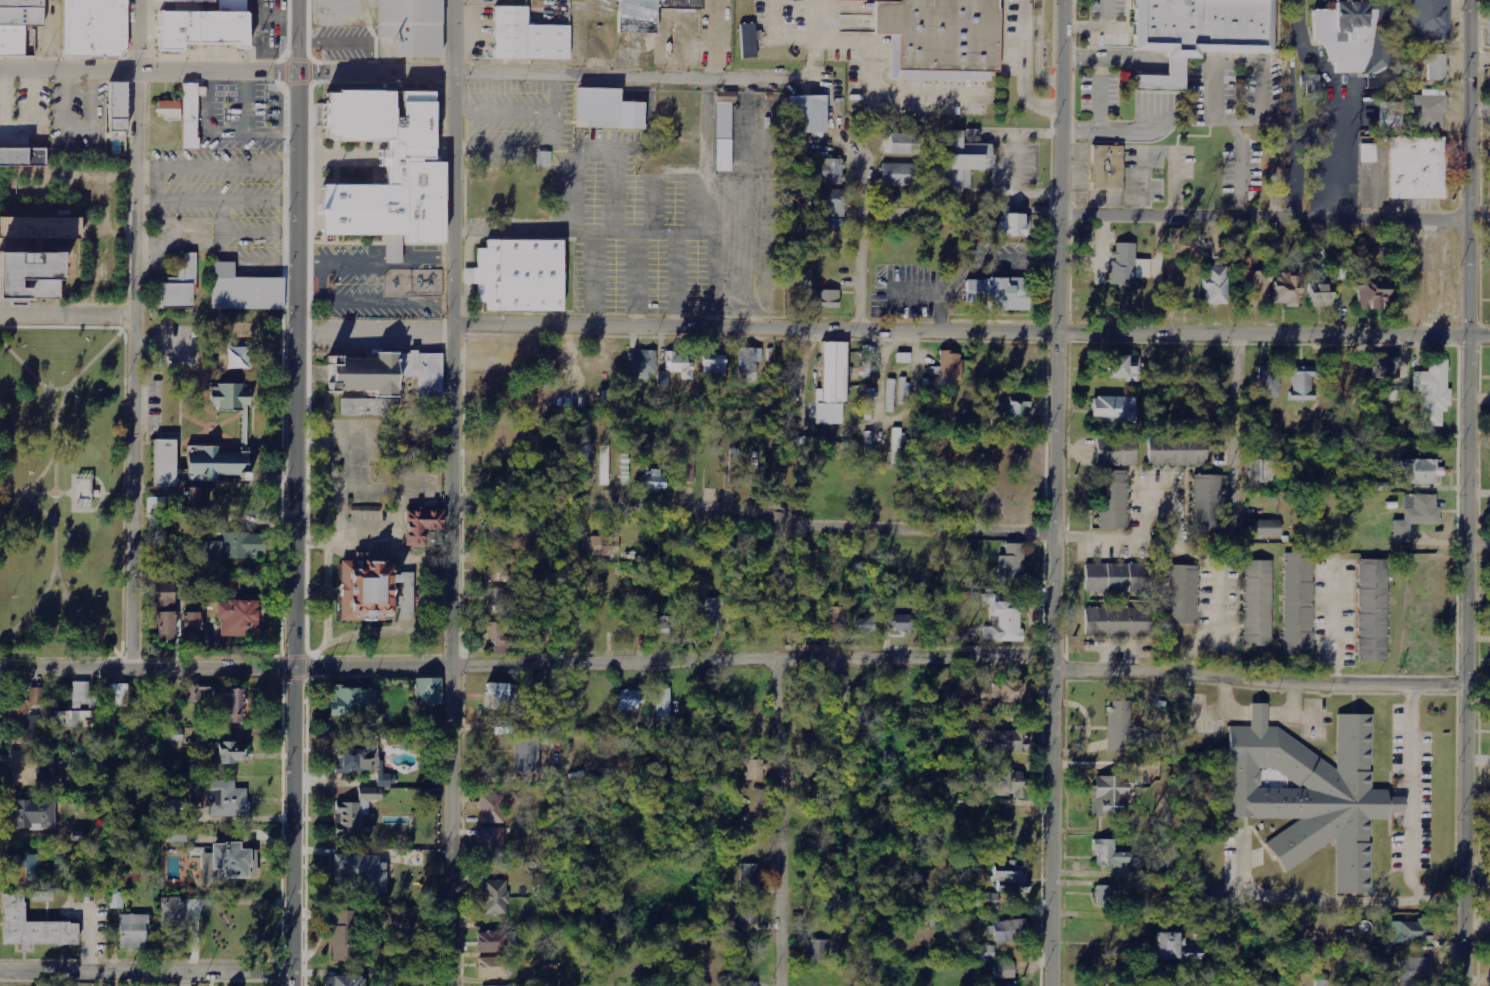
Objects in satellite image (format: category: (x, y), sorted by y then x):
building: (188, 0)
building: (21, 2)
building: (21, 14)
building: (649, 14)
building: (1426, 20)
building: (408, 25)
building: (93, 27)
building: (204, 27)
building: (1195, 32)
building: (942, 34)
road: (774, 37)
building: (1353, 37)
building: (526, 38)
building: (17, 40)
building: (749, 40)
road: (813, 58)
building: (1434, 68)
road: (1021, 70)
road: (150, 71)
road: (870, 72)
road: (556, 75)
building: (120, 110)
building: (607, 110)
building: (183, 113)
building: (807, 114)
building: (1426, 115)
building: (1392, 117)
building: (722, 132)
building: (904, 144)
building: (1369, 153)
building: (23, 157)
building: (544, 159)
building: (963, 161)
building: (385, 167)
building: (1415, 168)
building: (1105, 169)
building: (828, 171)
building: (900, 175)
parking lot: (226, 199)
building: (830, 202)
road: (744, 203)
building: (894, 208)
parking lot: (633, 215)
road: (1262, 218)
building: (1014, 226)
road: (600, 231)
building: (1181, 243)
building: (1359, 247)
building: (36, 255)
building: (1242, 263)
building: (1128, 266)
building: (517, 272)
building: (1340, 275)
road: (860, 284)
building: (179, 285)
building: (1216, 285)
building: (243, 290)
building: (1287, 291)
building: (1371, 292)
building: (997, 294)
building: (1320, 296)
building: (825, 300)
road: (67, 314)
road: (376, 329)
road: (972, 332)
road: (133, 333)
building: (904, 358)
building: (642, 363)
building: (749, 363)
building: (715, 364)
building: (680, 365)
building: (951, 365)
building: (1121, 366)
building: (1385, 369)
building: (391, 374)
road: (35, 375)
building: (1269, 382)
building: (1303, 384)
building: (832, 386)
building: (1433, 393)
building: (227, 398)
road: (61, 401)
building: (1011, 408)
building: (1114, 410)
road: (1236, 426)
building: (897, 446)
building: (1117, 451)
building: (1178, 451)
building: (216, 462)
building: (164, 463)
building: (605, 465)
building: (691, 465)
building: (585, 466)
building: (1261, 471)
building: (1422, 471)
road: (40, 473)
building: (655, 480)
road: (72, 491)
building: (83, 491)
park: (60, 492)
road: (64, 492)
road: (103, 492)
road: (297, 492)
road: (453, 492)
road: (1055, 492)
road: (1465, 492)
building: (194, 496)
building: (1114, 500)
building: (1206, 504)
building: (155, 512)
road: (754, 513)
building: (1416, 516)
building: (422, 526)
building: (1267, 529)
building: (238, 546)
building: (605, 546)
road: (1477, 546)
road: (55, 549)
building: (1012, 565)
building: (496, 572)
building: (1112, 578)
building: (232, 586)
building: (367, 590)
building: (1184, 595)
building: (495, 597)
building: (164, 598)
building: (1258, 603)
building: (1299, 604)
road: (81, 607)
building: (1373, 611)
building: (713, 617)
building: (237, 618)
building: (1004, 621)
building: (1116, 621)
building: (901, 622)
building: (191, 624)
building: (658, 626)
building: (865, 626)
building: (165, 627)
building: (502, 638)
road: (1196, 645)
road: (528, 662)
road: (1260, 675)
building: (428, 692)
building: (1014, 692)
building: (118, 695)
building: (839, 695)
building: (499, 696)
building: (353, 700)
building: (629, 700)
building: (997, 700)
building: (664, 705)
building: (76, 709)
building: (25, 718)
building: (1120, 726)
building: (1007, 740)
building: (227, 751)
building: (358, 754)
building: (527, 755)
building: (23, 768)
building: (756, 770)
building: (385, 778)
building: (1006, 783)
building: (1311, 794)
building: (224, 797)
building: (1110, 797)
building: (178, 808)
building: (492, 808)
building: (354, 812)
building: (34, 814)
road: (776, 822)
building: (1010, 823)
building: (177, 835)
building: (492, 841)
building: (1111, 854)
building: (234, 860)
building: (206, 867)
building: (23, 868)
building: (358, 873)
building: (749, 875)
building: (1013, 878)
building: (1106, 896)
building: (496, 897)
building: (985, 900)
building: (750, 912)
building: (170, 914)
building: (32, 926)
building: (133, 931)
building: (1011, 931)
building: (1410, 931)
building: (341, 936)
building: (512, 939)
building: (492, 941)
building: (1174, 947)
building: (818, 950)
building: (985, 953)
building: (492, 967)
road: (146, 969)
building: (1005, 969)
building: (1415, 971)
building: (344, 980)
building: (750, 984)
building: (1000, 984)
building: (483, 985)

